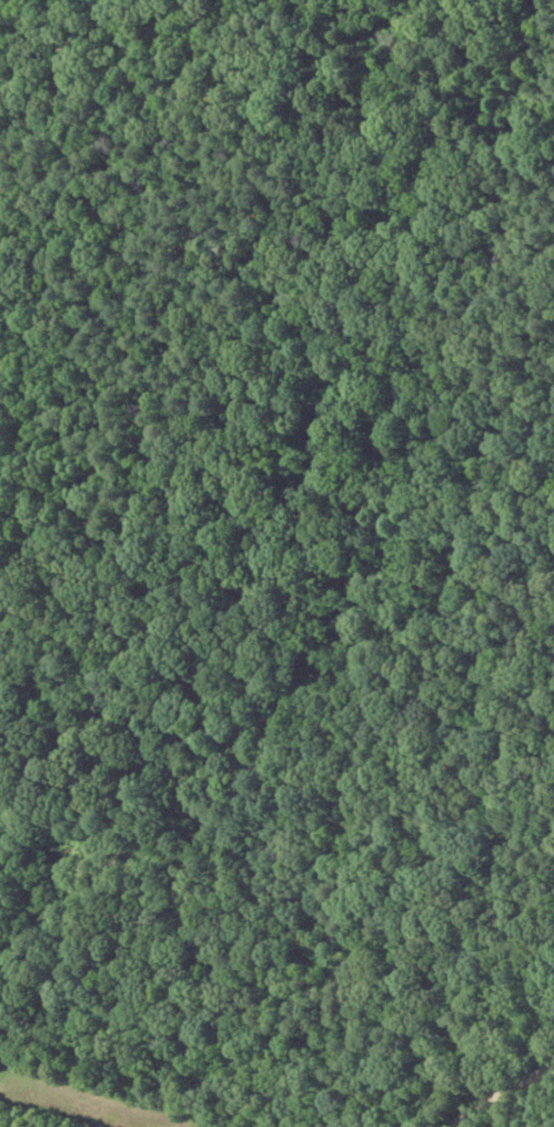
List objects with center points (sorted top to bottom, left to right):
road: (514, 1097)

